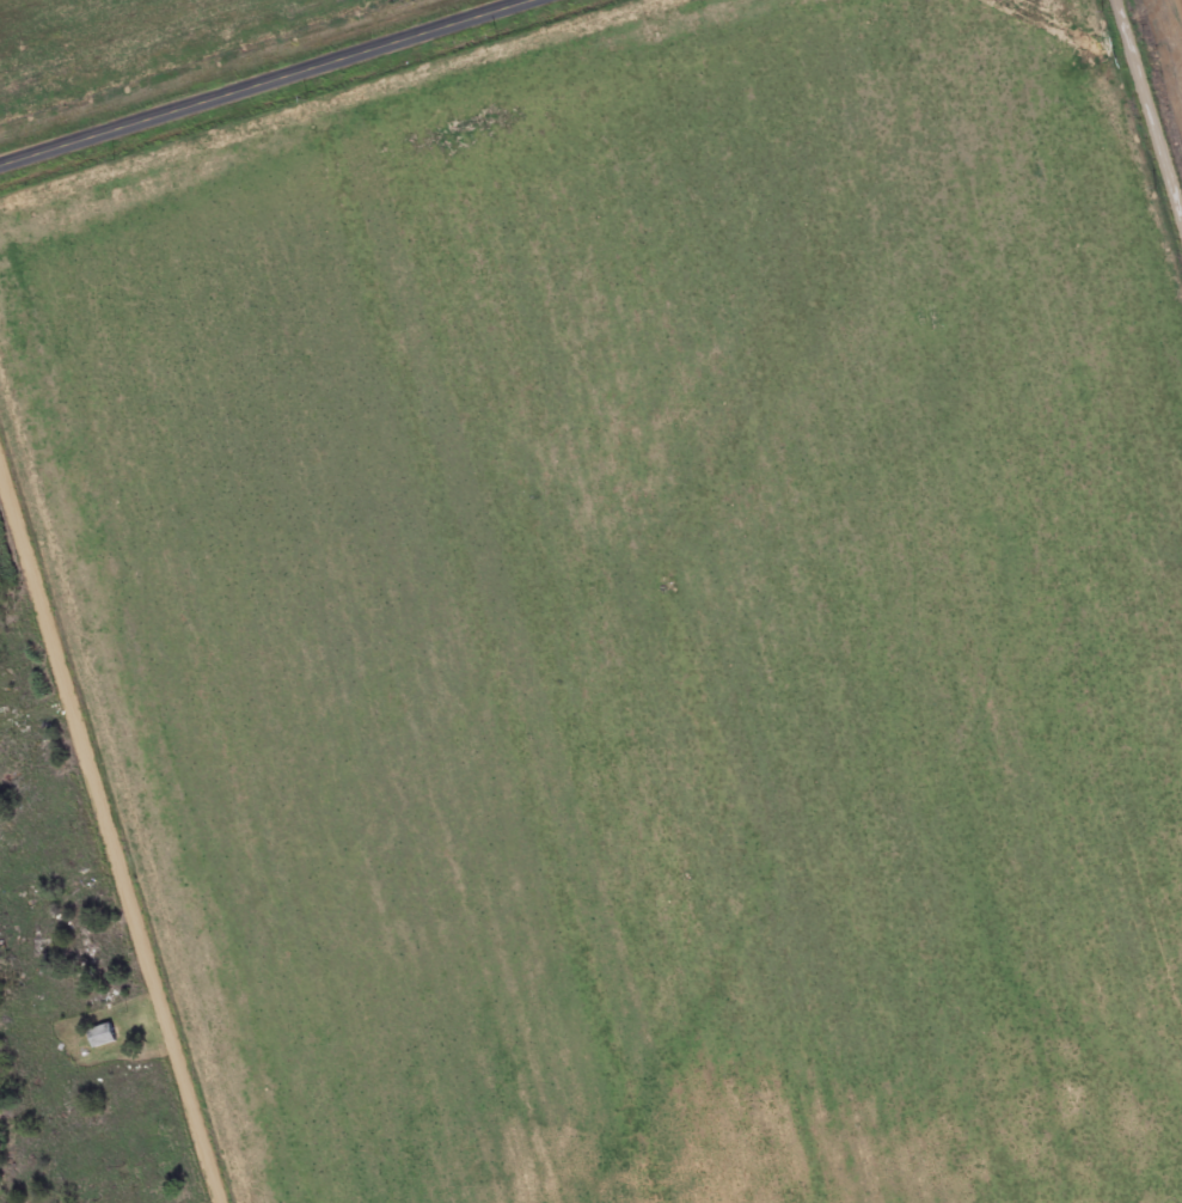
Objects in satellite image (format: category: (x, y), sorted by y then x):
road: (270, 86)
road: (1152, 98)
road: (1, 459)
road: (35, 714)
road: (109, 828)
road: (75, 983)
building: (103, 1038)

